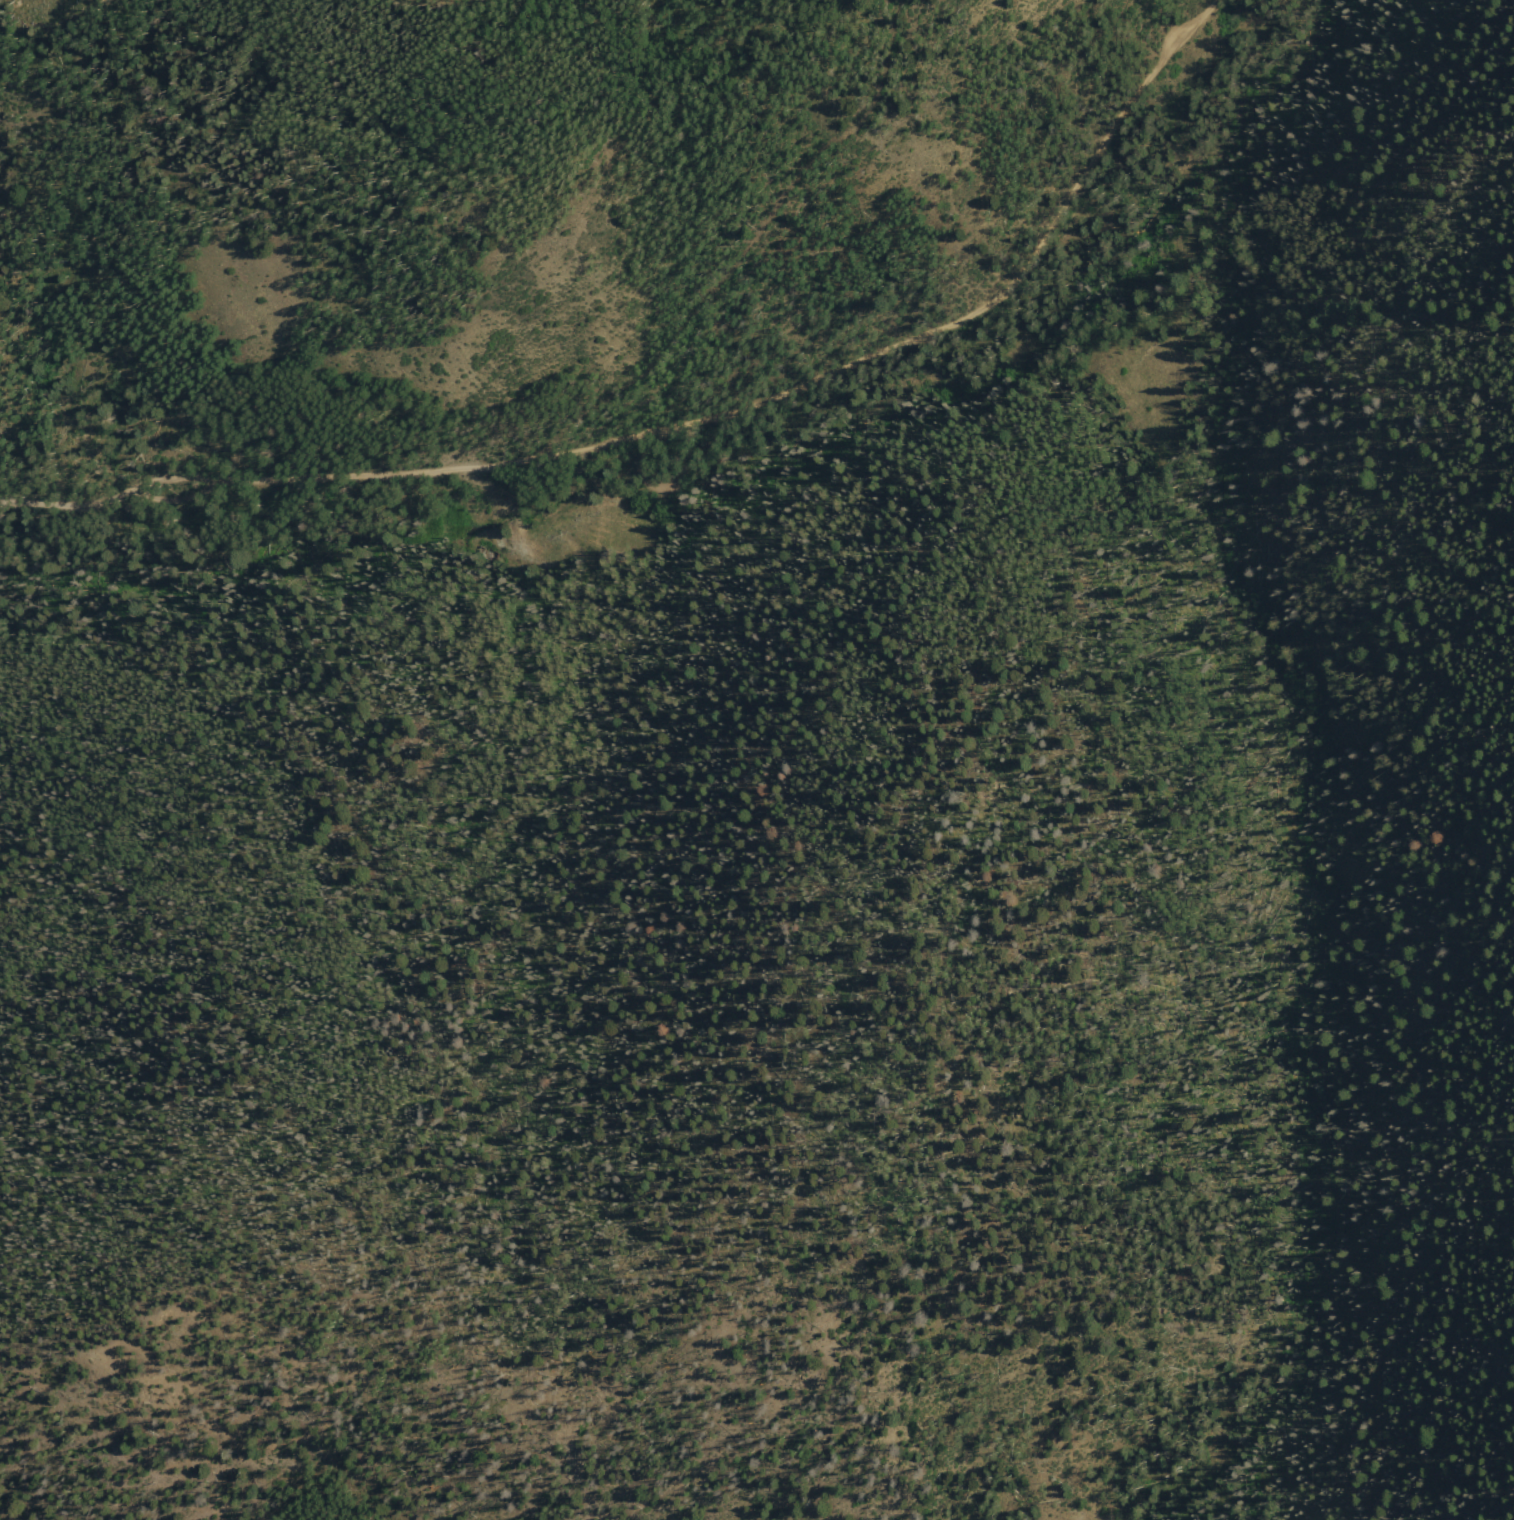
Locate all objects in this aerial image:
road: (807, 383)
road: (111, 503)
road: (114, 537)

